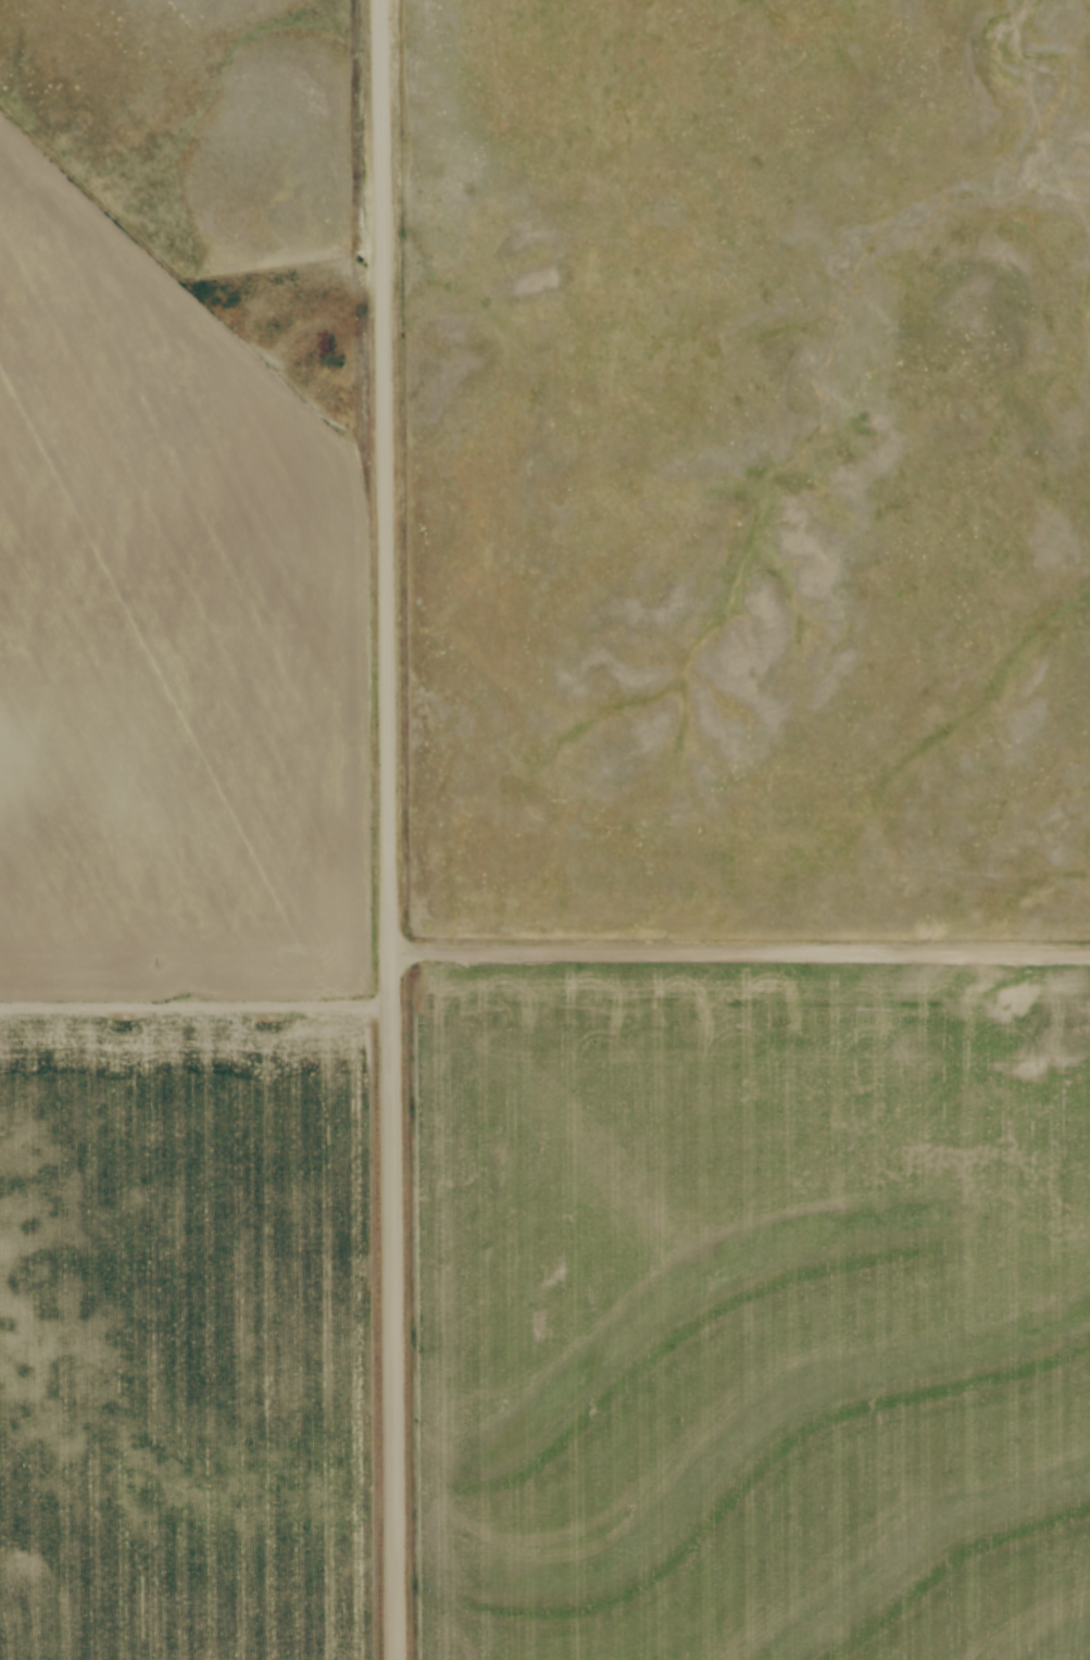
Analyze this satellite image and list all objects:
road: (383, 476)
road: (738, 951)
crop: (178, 975)
road: (390, 1306)
crop: (753, 1313)

